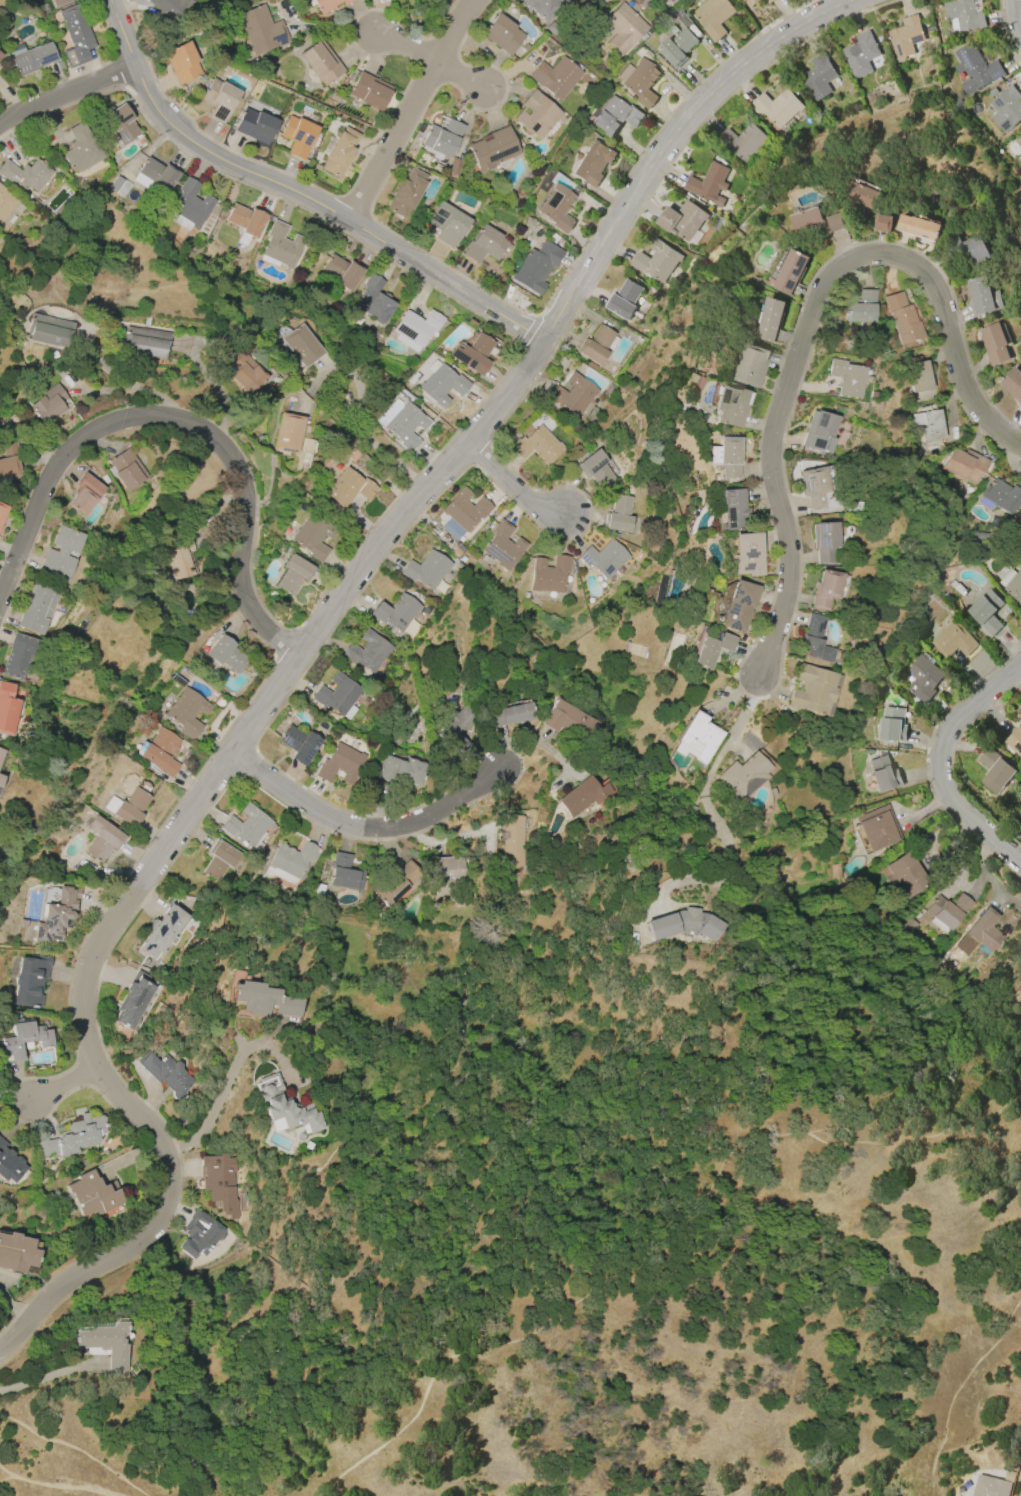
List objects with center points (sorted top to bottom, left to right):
building: (767, 1)
building: (58, 2)
building: (750, 2)
building: (328, 4)
building: (544, 8)
building: (169, 9)
building: (963, 14)
road: (1016, 15)
building: (713, 17)
building: (623, 28)
building: (260, 29)
building: (501, 34)
building: (75, 36)
building: (905, 37)
building: (678, 41)
road: (408, 47)
building: (860, 53)
building: (0, 57)
building: (33, 58)
building: (181, 62)
building: (320, 62)
building: (974, 67)
road: (463, 76)
building: (555, 77)
building: (817, 77)
building: (639, 81)
road: (66, 91)
building: (370, 91)
building: (219, 99)
building: (777, 107)
road: (412, 108)
building: (1005, 108)
building: (537, 115)
building: (615, 116)
building: (120, 123)
building: (255, 125)
building: (298, 136)
building: (441, 139)
building: (742, 141)
building: (1018, 141)
building: (80, 149)
building: (492, 149)
building: (340, 151)
building: (592, 163)
building: (25, 175)
building: (155, 177)
building: (116, 183)
building: (708, 184)
building: (406, 193)
building: (861, 193)
road: (299, 194)
building: (6, 203)
building: (189, 206)
building: (557, 207)
building: (680, 220)
building: (807, 221)
building: (244, 222)
building: (834, 222)
building: (882, 223)
building: (447, 224)
building: (918, 226)
building: (486, 244)
building: (280, 246)
building: (973, 248)
building: (656, 261)
building: (537, 267)
building: (342, 271)
building: (790, 272)
building: (983, 295)
building: (373, 299)
building: (624, 299)
building: (863, 307)
building: (903, 318)
building: (769, 319)
road: (809, 328)
building: (415, 329)
building: (49, 330)
building: (146, 342)
building: (994, 344)
building: (597, 345)
building: (302, 346)
building: (472, 353)
building: (750, 365)
building: (246, 372)
building: (918, 375)
building: (693, 377)
building: (846, 377)
building: (441, 383)
building: (1012, 383)
road: (133, 387)
building: (573, 395)
building: (49, 404)
building: (732, 406)
road: (187, 422)
building: (402, 423)
building: (929, 425)
building: (818, 432)
building: (288, 433)
road: (372, 440)
building: (536, 445)
building: (726, 456)
building: (9, 463)
building: (964, 464)
building: (127, 469)
building: (595, 470)
building: (814, 485)
building: (349, 487)
road: (511, 487)
building: (84, 494)
building: (1003, 495)
building: (464, 510)
building: (732, 510)
building: (2, 511)
building: (619, 514)
building: (314, 536)
building: (824, 541)
building: (503, 546)
building: (60, 554)
building: (746, 554)
building: (180, 557)
building: (604, 559)
building: (426, 569)
building: (293, 574)
building: (547, 574)
building: (1012, 583)
building: (825, 589)
building: (739, 606)
building: (38, 608)
building: (986, 611)
building: (396, 612)
building: (953, 639)
building: (813, 640)
building: (712, 649)
building: (367, 651)
building: (225, 653)
road: (300, 654)
building: (16, 655)
building: (922, 678)
building: (812, 689)
building: (338, 696)
building: (7, 708)
building: (187, 711)
building: (509, 714)
building: (569, 720)
building: (891, 725)
building: (456, 728)
building: (697, 738)
building: (1015, 740)
building: (299, 744)
building: (160, 751)
building: (1, 752)
road: (514, 760)
building: (339, 763)
road: (941, 763)
building: (385, 769)
building: (995, 771)
building: (407, 772)
building: (883, 773)
building: (744, 776)
building: (0, 777)
building: (583, 795)
building: (127, 807)
road: (711, 818)
road: (355, 823)
building: (248, 826)
building: (878, 827)
building: (102, 839)
building: (512, 841)
building: (219, 860)
building: (290, 862)
building: (345, 873)
building: (446, 874)
building: (905, 874)
building: (395, 883)
building: (949, 910)
building: (56, 915)
building: (684, 924)
building: (162, 931)
building: (981, 935)
building: (29, 980)
building: (134, 999)
building: (264, 1000)
building: (287, 1022)
building: (22, 1041)
building: (165, 1073)
road: (64, 1087)
road: (218, 1099)
building: (287, 1108)
building: (74, 1137)
building: (308, 1145)
building: (9, 1163)
building: (219, 1182)
building: (94, 1195)
building: (200, 1236)
building: (17, 1252)
building: (107, 1345)
road: (54, 1482)
building: (989, 1486)

